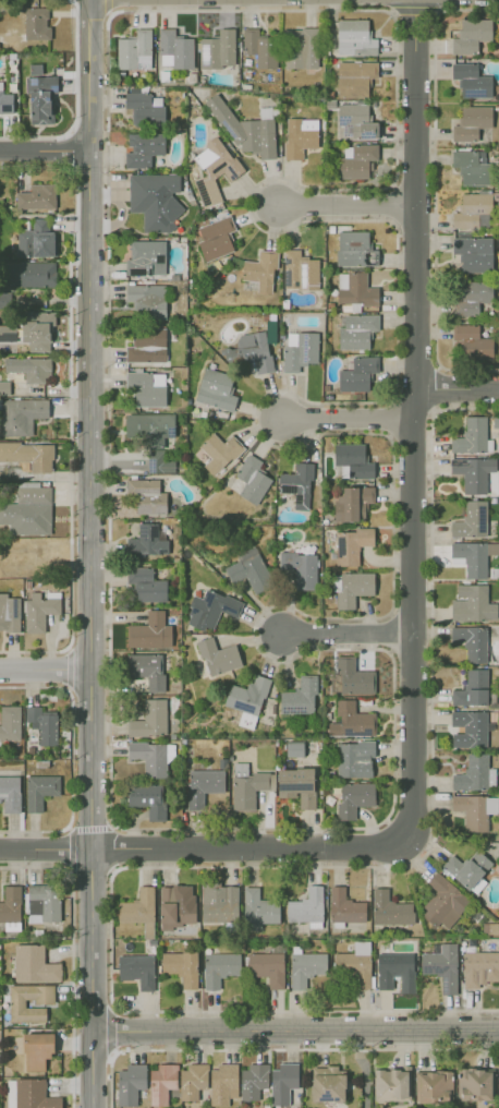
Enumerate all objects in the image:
road: (108, 5)
building: (36, 21)
building: (472, 35)
building: (354, 37)
building: (259, 48)
building: (300, 48)
building: (174, 49)
building: (217, 49)
building: (134, 50)
road: (76, 62)
building: (354, 77)
building: (471, 80)
building: (39, 95)
building: (5, 101)
building: (145, 108)
building: (355, 120)
building: (472, 121)
building: (245, 128)
building: (299, 136)
building: (143, 148)
road: (72, 149)
road: (44, 150)
building: (356, 159)
building: (472, 167)
building: (214, 169)
road: (434, 186)
building: (36, 196)
road: (89, 200)
building: (154, 200)
road: (341, 204)
building: (473, 210)
building: (216, 238)
building: (36, 239)
building: (354, 249)
building: (473, 252)
building: (146, 257)
building: (260, 270)
building: (300, 270)
building: (28, 274)
building: (354, 288)
building: (471, 296)
building: (147, 299)
building: (5, 300)
building: (37, 329)
building: (356, 329)
building: (8, 333)
building: (472, 342)
building: (147, 344)
building: (300, 350)
building: (249, 351)
building: (29, 368)
building: (357, 373)
building: (4, 387)
building: (146, 387)
road: (437, 388)
road: (455, 388)
building: (216, 389)
road: (70, 406)
building: (22, 414)
road: (390, 418)
road: (344, 422)
road: (414, 422)
building: (149, 425)
building: (472, 436)
building: (219, 451)
building: (28, 454)
building: (353, 461)
building: (159, 463)
building: (473, 472)
building: (252, 479)
building: (297, 484)
building: (146, 495)
building: (352, 503)
building: (27, 509)
building: (471, 519)
building: (147, 541)
building: (351, 544)
building: (471, 557)
building: (248, 568)
building: (300, 568)
building: (146, 583)
building: (351, 588)
building: (472, 603)
building: (40, 609)
building: (210, 609)
building: (9, 612)
building: (150, 631)
road: (389, 633)
road: (344, 634)
building: (471, 641)
building: (218, 657)
road: (68, 670)
building: (146, 670)
road: (45, 673)
building: (353, 677)
building: (472, 688)
building: (299, 697)
building: (246, 699)
building: (150, 719)
building: (351, 721)
building: (9, 722)
building: (42, 724)
road: (71, 724)
building: (468, 728)
building: (294, 748)
road: (92, 755)
building: (151, 757)
building: (353, 758)
building: (475, 773)
building: (203, 785)
building: (248, 785)
building: (296, 785)
building: (39, 790)
building: (10, 793)
building: (354, 798)
building: (147, 799)
road: (393, 799)
building: (475, 810)
road: (69, 828)
road: (71, 828)
road: (34, 831)
road: (111, 847)
road: (200, 848)
road: (261, 866)
road: (90, 868)
building: (467, 868)
building: (443, 902)
building: (42, 903)
building: (219, 903)
building: (177, 905)
building: (344, 906)
building: (11, 907)
building: (306, 907)
building: (258, 908)
building: (390, 908)
building: (138, 910)
road: (71, 952)
building: (34, 964)
building: (354, 964)
building: (441, 965)
building: (181, 966)
building: (219, 967)
building: (267, 967)
building: (305, 967)
building: (392, 967)
building: (480, 967)
building: (137, 969)
building: (28, 1001)
road: (295, 1029)
road: (111, 1031)
road: (278, 1048)
building: (36, 1050)
building: (253, 1080)
building: (192, 1081)
building: (282, 1082)
building: (130, 1083)
building: (161, 1083)
building: (222, 1083)
building: (328, 1083)
building: (391, 1084)
building: (474, 1084)
building: (434, 1085)
building: (34, 1094)

